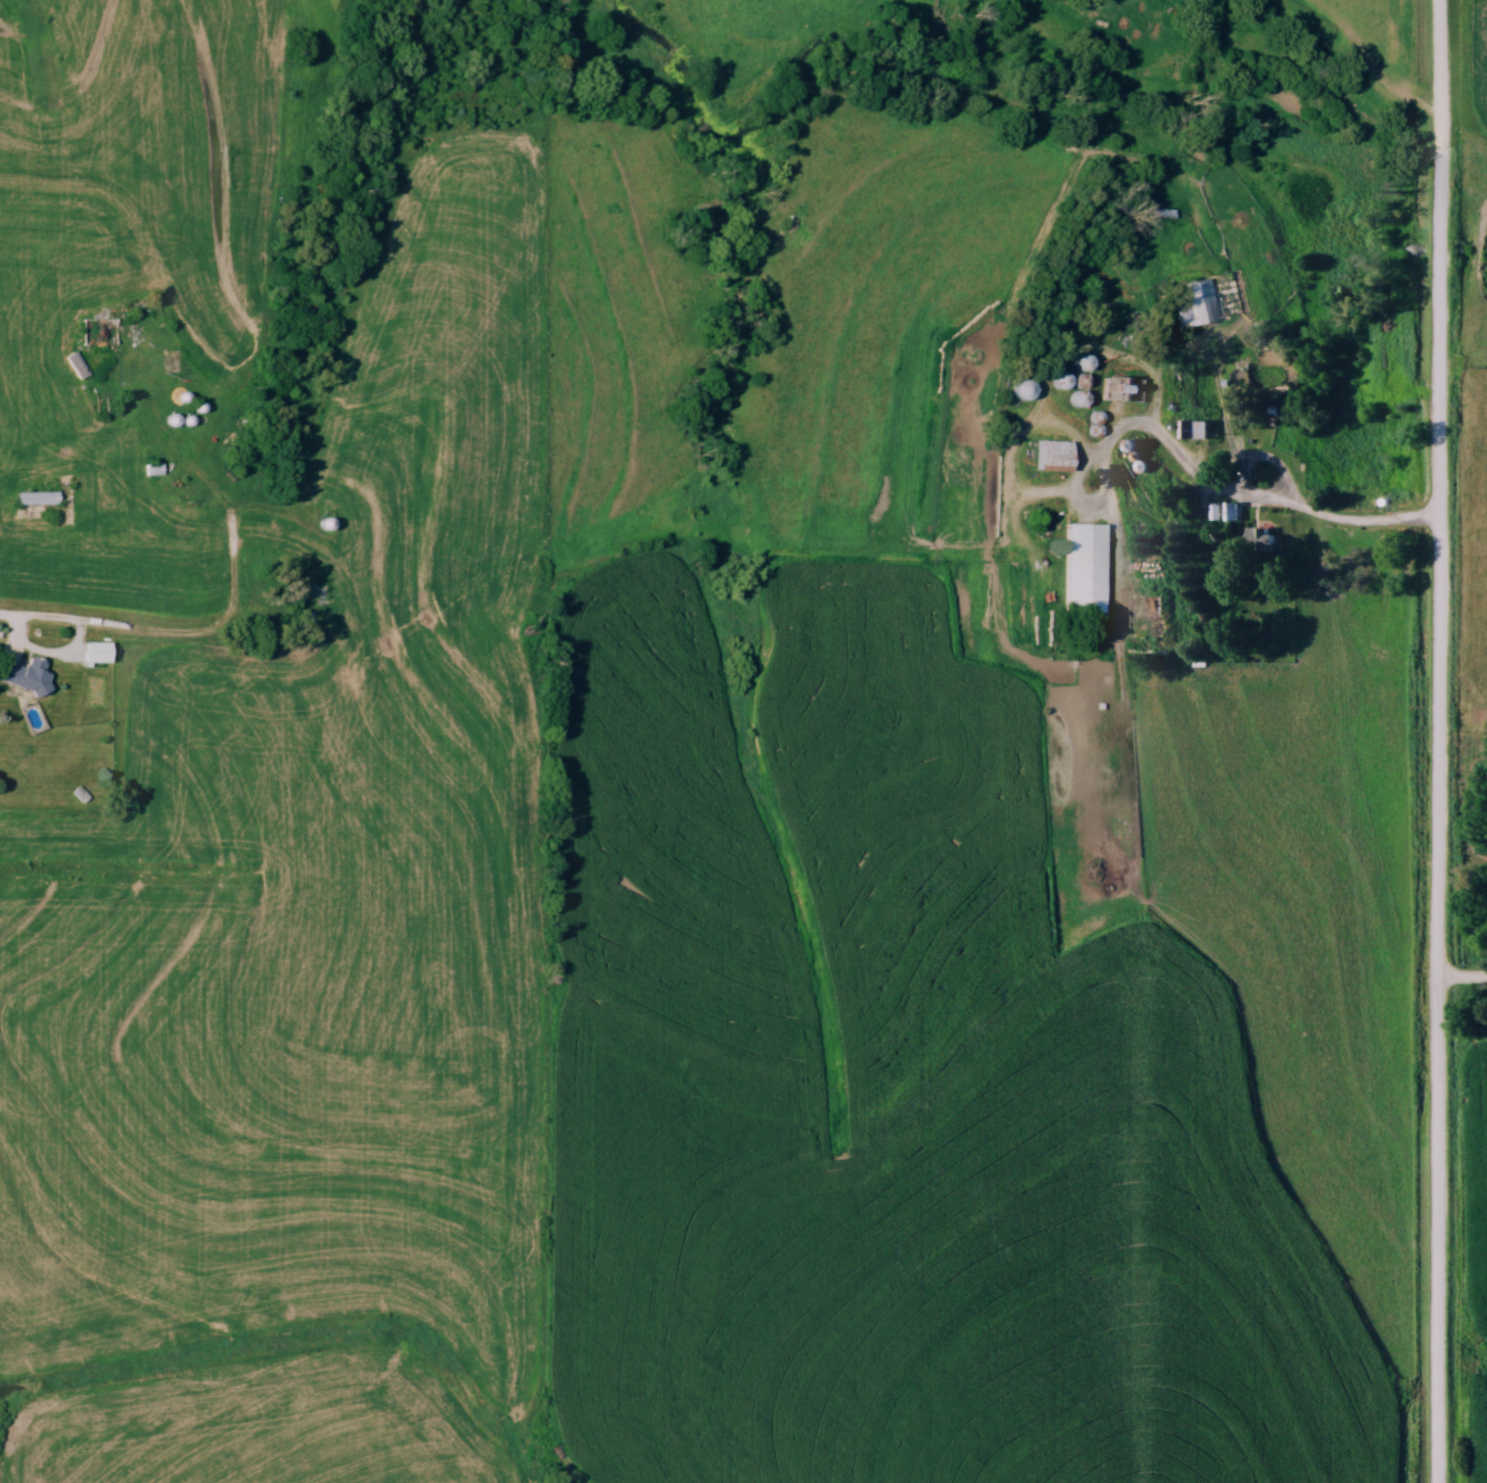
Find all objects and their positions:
building: (1133, 273)
building: (1195, 303)
building: (99, 333)
building: (1026, 390)
road: (1134, 423)
building: (1198, 430)
building: (153, 469)
road: (1240, 482)
building: (37, 498)
building: (1231, 512)
road: (1372, 526)
building: (1259, 535)
building: (1087, 569)
building: (309, 594)
road: (232, 602)
building: (99, 652)
road: (47, 654)
building: (26, 675)
road: (1440, 741)
building: (79, 794)
road: (1463, 979)

